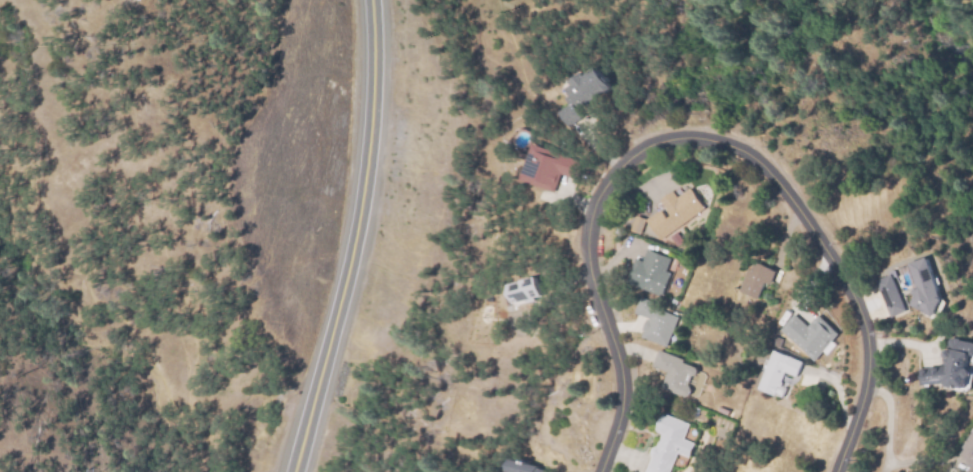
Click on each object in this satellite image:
building: (579, 97)
road: (696, 137)
building: (541, 168)
building: (673, 212)
building: (635, 224)
road: (354, 239)
building: (648, 273)
building: (758, 275)
building: (521, 291)
building: (908, 294)
building: (656, 322)
building: (813, 334)
building: (947, 366)
building: (674, 371)
building: (777, 371)
building: (667, 443)
building: (967, 452)
building: (520, 467)

